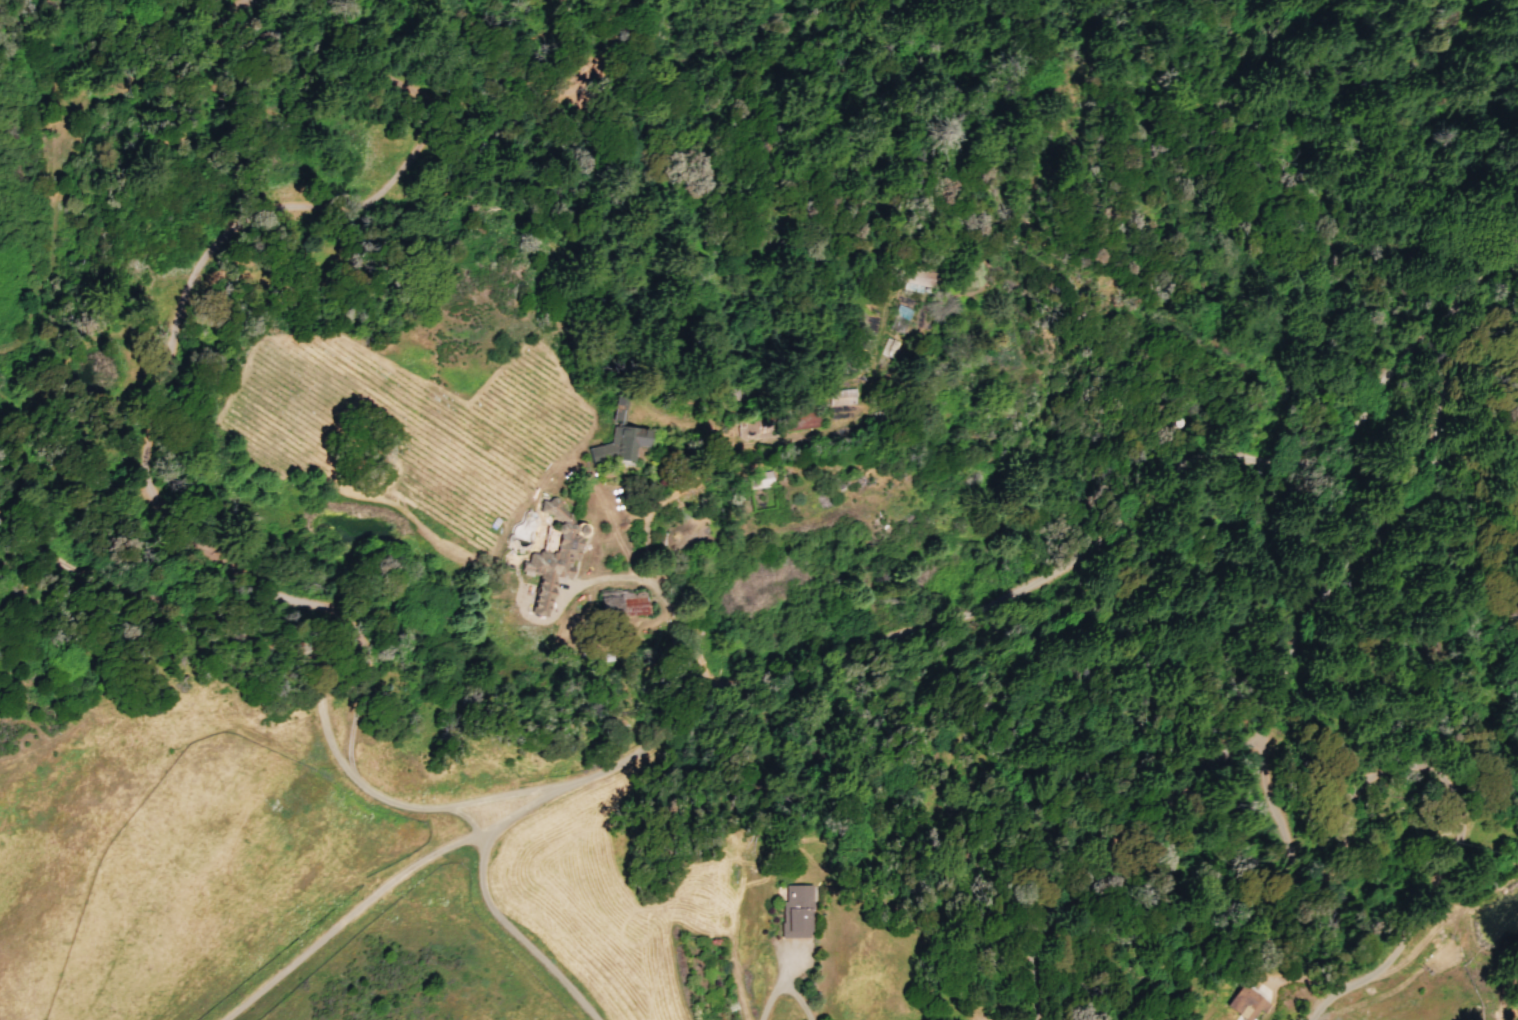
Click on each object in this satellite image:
building: (917, 281)
building: (619, 438)
building: (541, 556)
road: (1022, 580)
road: (180, 583)
building: (620, 604)
road: (651, 616)
road: (1280, 692)
road: (345, 738)
road: (403, 806)
road: (466, 821)
building: (796, 912)
road: (347, 917)
road: (514, 936)
road: (781, 989)
building: (1250, 1006)

